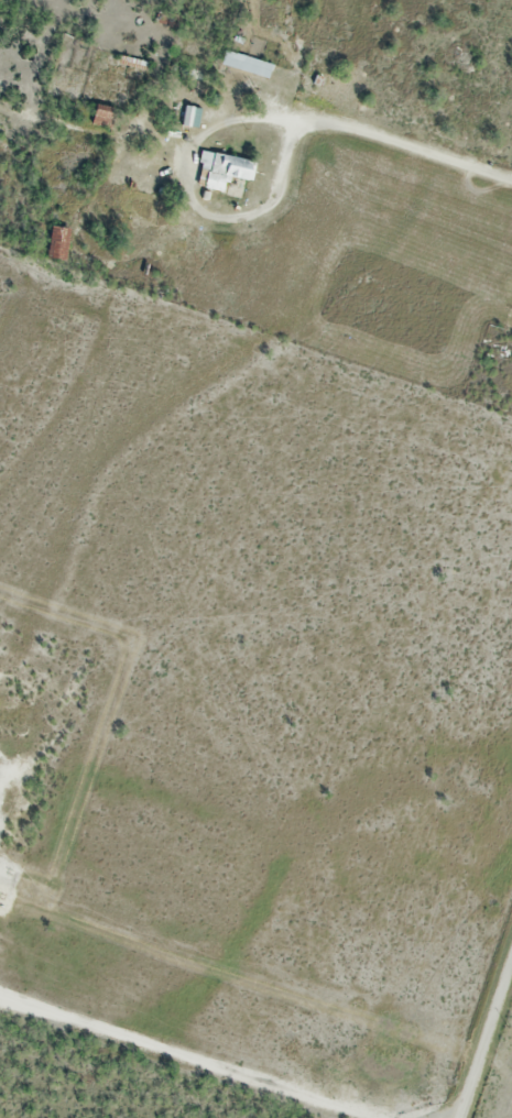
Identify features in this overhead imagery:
building: (246, 65)
building: (190, 114)
building: (104, 116)
road: (243, 134)
building: (222, 171)
building: (59, 241)
road: (482, 1028)

